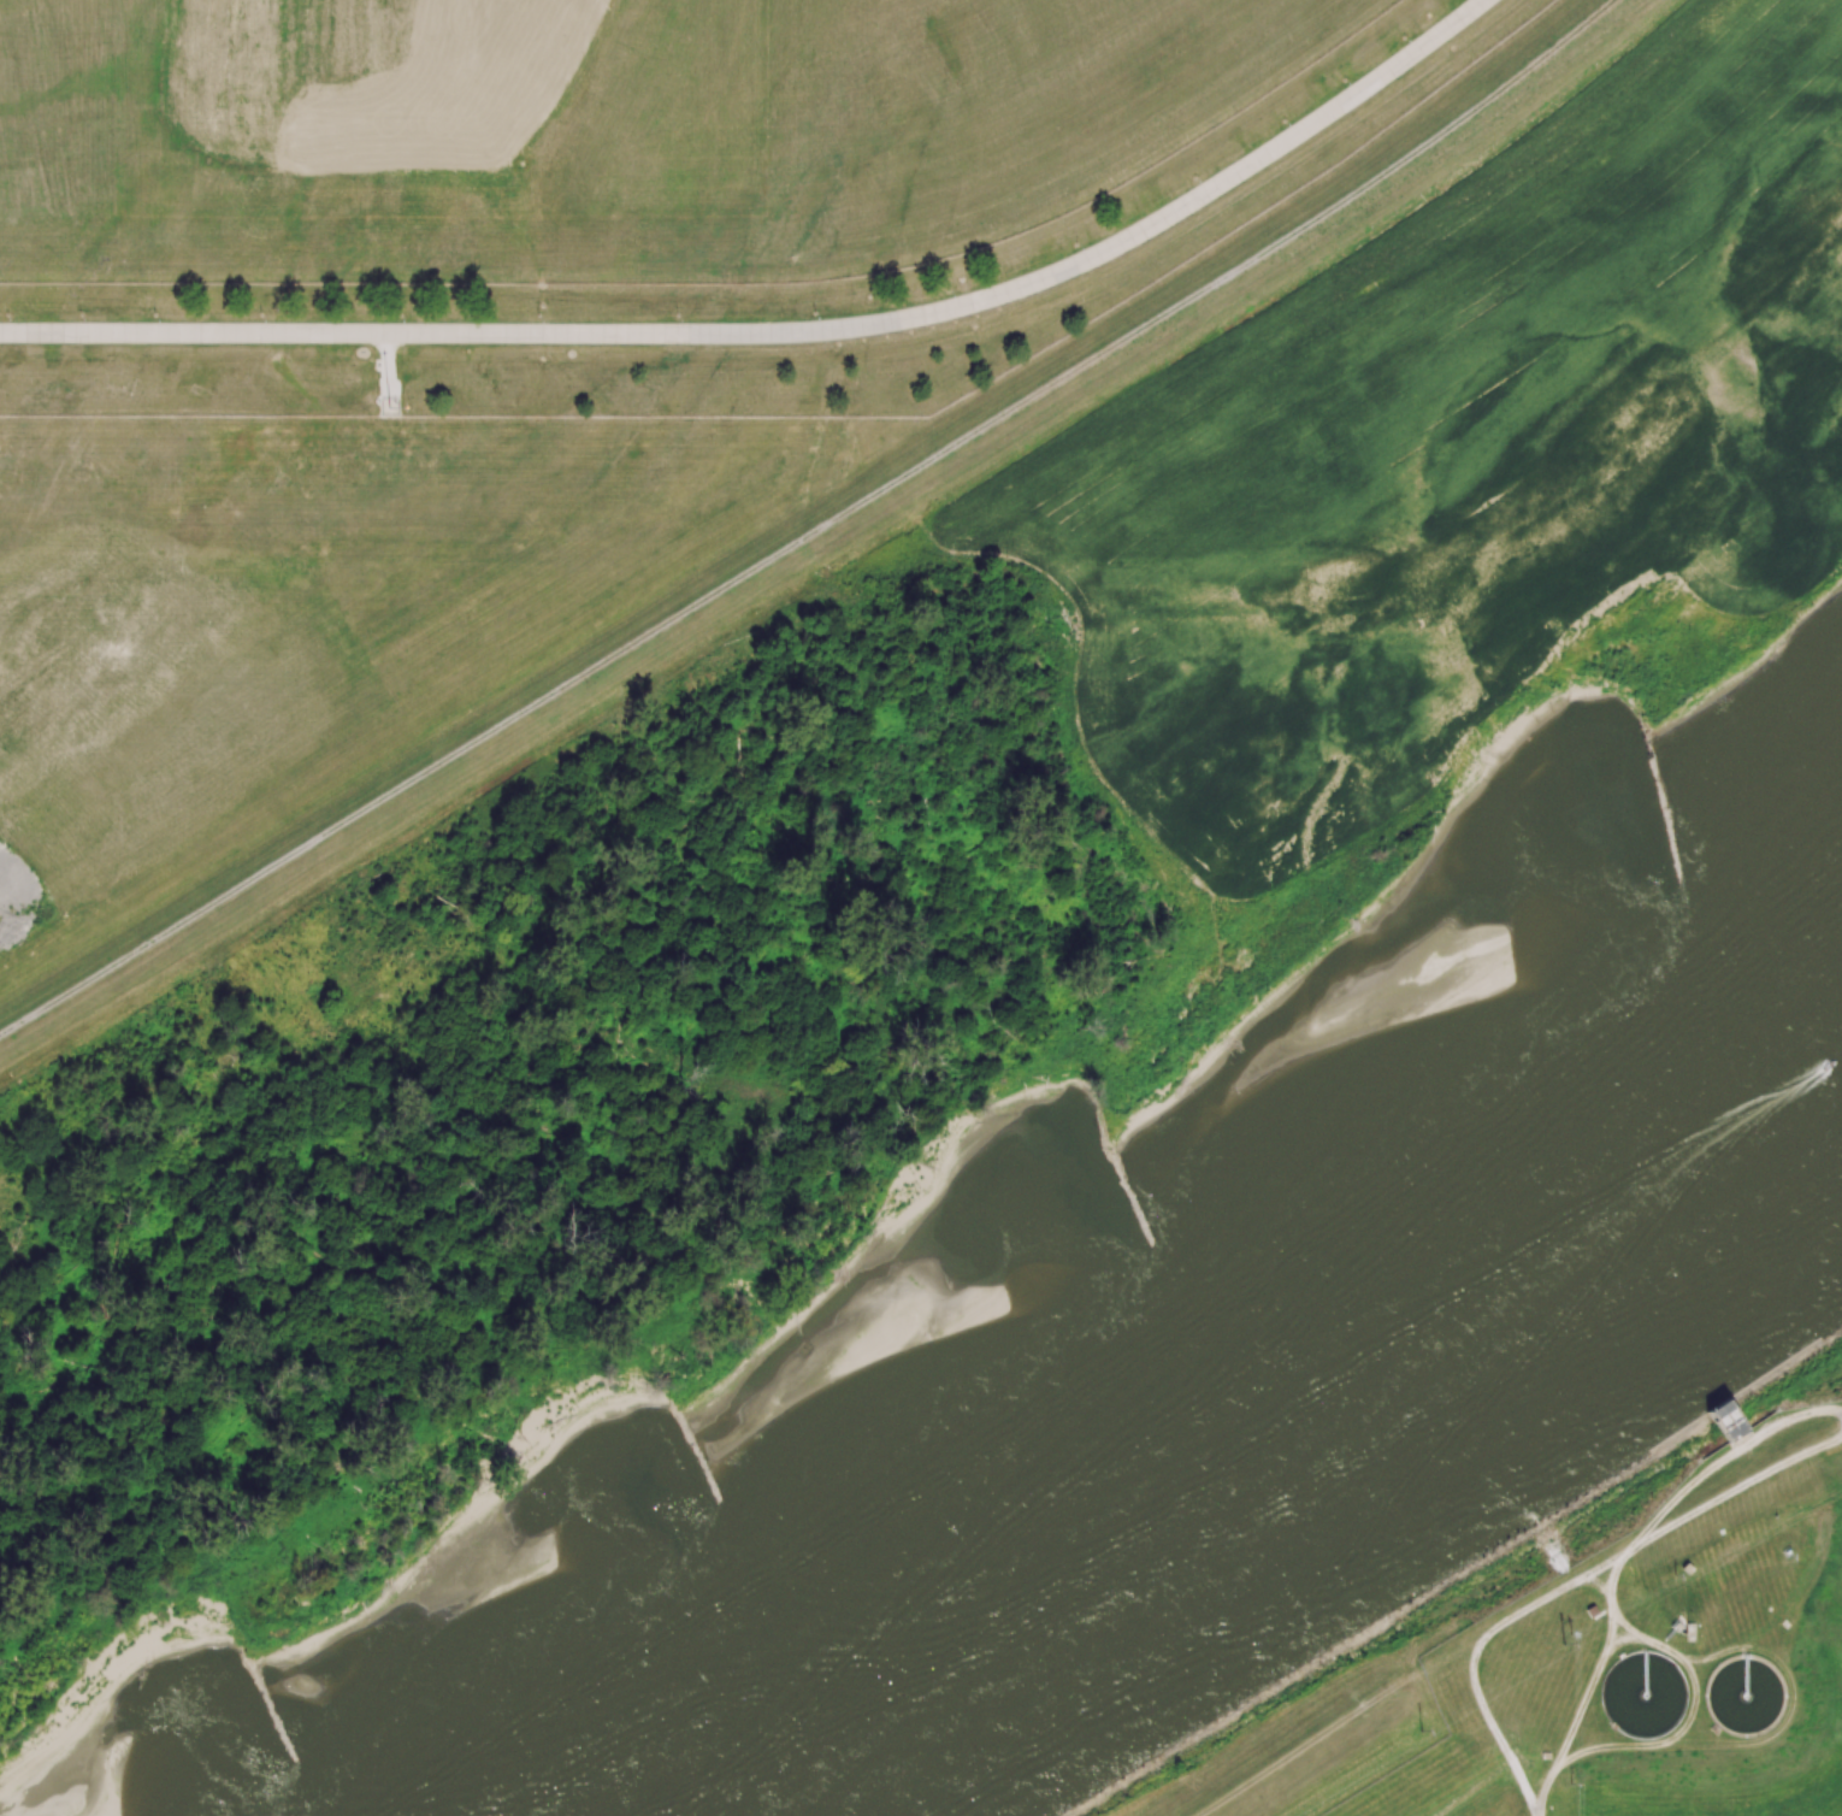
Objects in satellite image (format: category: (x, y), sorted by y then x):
airport: (649, 191)
road: (786, 332)
park: (1840, 1344)
river: (1235, 1402)

